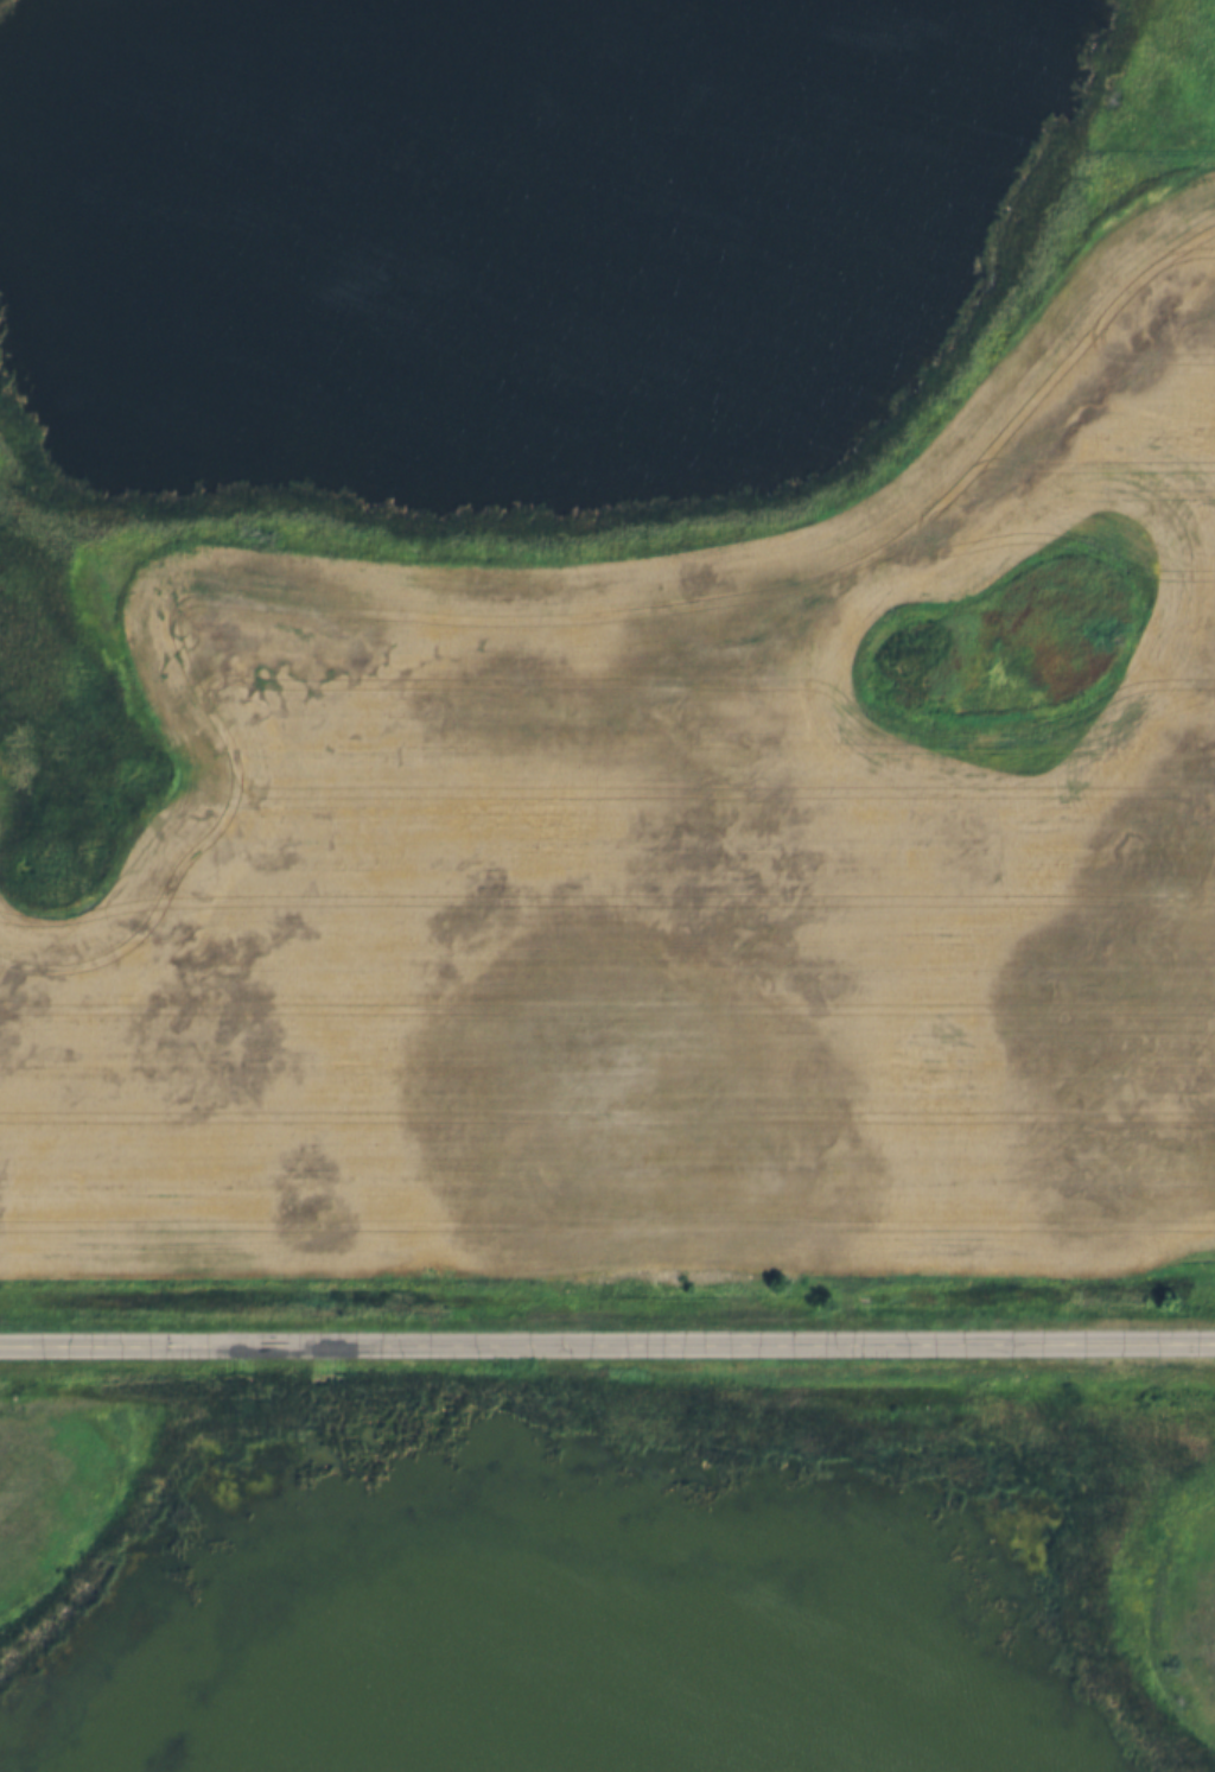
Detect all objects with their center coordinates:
road: (607, 1341)

